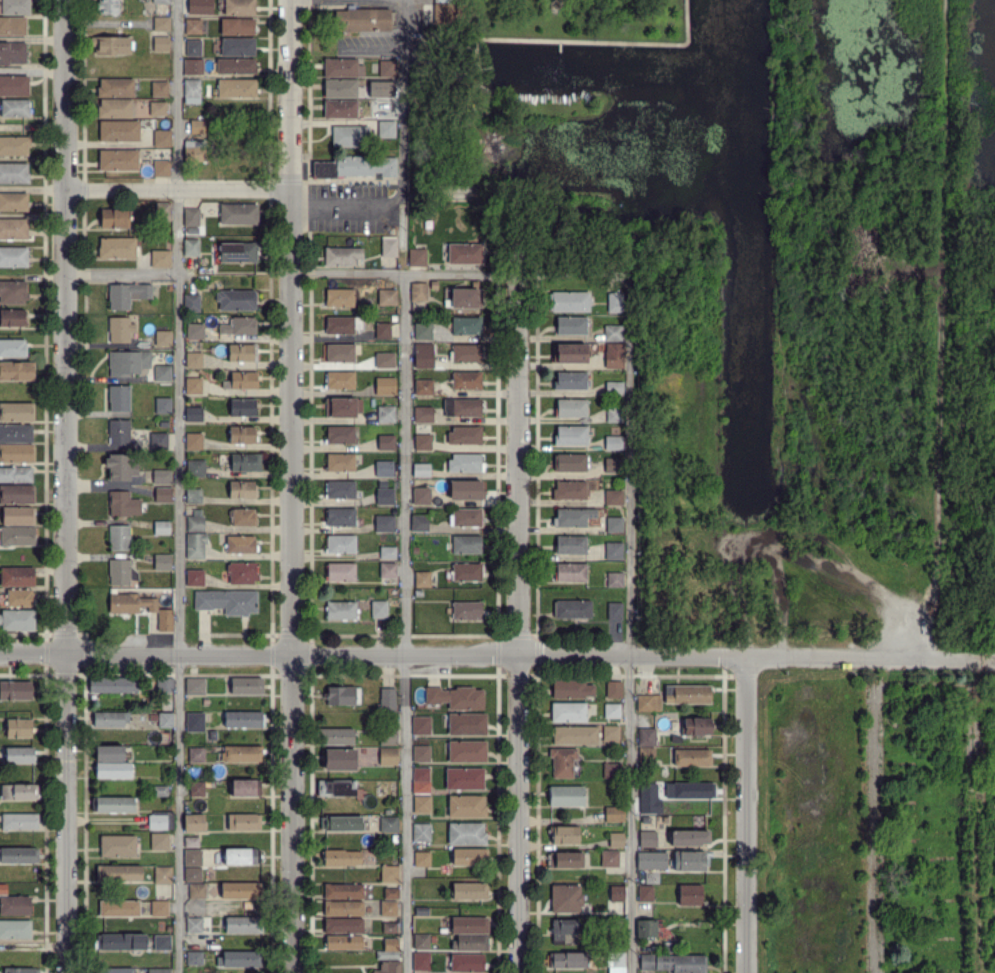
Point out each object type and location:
building: (161, 1)
road: (347, 1)
building: (108, 6)
building: (192, 6)
building: (15, 7)
building: (239, 7)
building: (441, 14)
building: (363, 20)
building: (161, 24)
building: (13, 26)
building: (193, 26)
building: (237, 26)
building: (161, 44)
building: (193, 45)
building: (111, 46)
building: (238, 46)
building: (13, 54)
building: (194, 66)
building: (235, 66)
building: (342, 68)
building: (387, 69)
building: (14, 85)
building: (115, 88)
building: (160, 89)
building: (236, 89)
building: (341, 89)
building: (192, 90)
building: (15, 108)
building: (114, 109)
building: (157, 109)
building: (341, 109)
building: (197, 127)
building: (386, 129)
building: (119, 131)
building: (350, 136)
building: (162, 139)
building: (14, 146)
building: (194, 150)
building: (118, 159)
building: (354, 167)
building: (161, 169)
building: (13, 173)
road: (178, 190)
building: (13, 202)
road: (347, 210)
building: (165, 213)
building: (239, 214)
building: (192, 217)
building: (118, 220)
building: (13, 229)
building: (191, 248)
building: (389, 248)
building: (119, 249)
building: (238, 252)
building: (465, 253)
building: (342, 256)
building: (13, 258)
building: (416, 258)
building: (162, 259)
road: (458, 272)
road: (122, 273)
building: (13, 292)
building: (419, 292)
building: (126, 295)
building: (339, 298)
building: (387, 298)
building: (466, 298)
building: (236, 300)
building: (570, 301)
building: (192, 303)
building: (615, 303)
park: (800, 306)
building: (12, 318)
building: (239, 326)
building: (338, 326)
building: (466, 326)
building: (571, 326)
road: (66, 327)
building: (119, 329)
building: (383, 330)
building: (195, 331)
building: (423, 331)
building: (614, 333)
building: (163, 338)
building: (12, 348)
building: (241, 353)
building: (339, 353)
building: (466, 353)
building: (572, 353)
building: (614, 354)
building: (194, 359)
building: (385, 360)
building: (424, 360)
building: (127, 363)
building: (16, 371)
building: (162, 372)
building: (339, 380)
building: (572, 380)
building: (241, 381)
building: (465, 381)
building: (193, 386)
building: (385, 386)
building: (424, 387)
building: (615, 388)
building: (119, 399)
building: (163, 405)
building: (242, 407)
building: (342, 407)
building: (462, 408)
building: (570, 408)
building: (16, 412)
building: (195, 414)
building: (386, 414)
building: (424, 414)
building: (615, 414)
building: (119, 432)
building: (16, 433)
building: (242, 435)
building: (340, 435)
building: (571, 435)
building: (465, 436)
building: (152, 439)
building: (194, 440)
building: (423, 442)
building: (613, 442)
building: (387, 443)
building: (17, 453)
building: (339, 462)
building: (244, 463)
building: (465, 463)
building: (570, 463)
building: (614, 465)
building: (121, 467)
building: (196, 469)
building: (384, 469)
building: (421, 470)
building: (15, 475)
building: (162, 476)
building: (383, 484)
road: (178, 486)
road: (292, 486)
road: (404, 487)
building: (242, 489)
building: (340, 490)
building: (466, 490)
building: (571, 490)
building: (16, 494)
building: (164, 495)
building: (385, 495)
building: (194, 496)
building: (422, 496)
building: (614, 497)
building: (123, 504)
road: (928, 507)
building: (18, 516)
building: (243, 517)
building: (339, 517)
building: (570, 517)
building: (465, 518)
building: (195, 520)
building: (384, 523)
building: (420, 523)
building: (614, 524)
building: (161, 528)
building: (17, 535)
building: (118, 537)
building: (466, 544)
building: (196, 545)
building: (241, 545)
building: (339, 545)
building: (570, 545)
building: (615, 551)
building: (388, 552)
building: (163, 562)
building: (389, 570)
building: (121, 571)
building: (339, 572)
building: (466, 572)
building: (570, 572)
building: (243, 573)
building: (17, 577)
building: (195, 578)
building: (421, 580)
building: (615, 580)
building: (418, 593)
building: (19, 598)
building: (227, 602)
building: (131, 603)
building: (379, 609)
building: (340, 610)
building: (467, 610)
building: (572, 610)
building: (615, 611)
building: (17, 621)
building: (164, 621)
road: (517, 622)
road: (627, 622)
road: (33, 655)
road: (517, 655)
road: (987, 657)
road: (923, 682)
building: (165, 684)
building: (113, 685)
building: (247, 685)
building: (196, 686)
building: (572, 689)
building: (614, 690)
building: (16, 691)
building: (688, 694)
building: (342, 695)
building: (457, 697)
building: (205, 700)
building: (387, 700)
building: (648, 702)
building: (611, 711)
building: (569, 712)
building: (111, 718)
building: (193, 718)
building: (244, 719)
building: (165, 720)
building: (467, 723)
building: (421, 725)
building: (697, 727)
building: (19, 728)
building: (611, 734)
building: (576, 735)
building: (336, 736)
building: (388, 736)
building: (647, 736)
building: (467, 752)
building: (109, 753)
building: (243, 753)
building: (421, 753)
building: (197, 754)
building: (19, 755)
building: (647, 755)
building: (389, 756)
building: (692, 757)
building: (341, 760)
building: (562, 762)
building: (113, 770)
building: (612, 771)
building: (421, 775)
building: (464, 779)
building: (197, 788)
building: (247, 788)
building: (337, 788)
building: (160, 790)
building: (648, 790)
building: (691, 790)
building: (19, 792)
building: (566, 796)
building: (113, 804)
building: (422, 804)
building: (466, 806)
building: (387, 811)
road: (66, 813)
building: (614, 814)
road: (745, 815)
building: (161, 820)
building: (20, 821)
building: (244, 821)
building: (195, 822)
building: (341, 823)
building: (389, 824)
building: (422, 832)
building: (466, 834)
building: (564, 835)
building: (687, 839)
building: (617, 840)
building: (648, 840)
building: (160, 841)
building: (118, 845)
building: (19, 855)
building: (193, 855)
building: (241, 856)
building: (470, 856)
building: (340, 857)
building: (610, 858)
building: (651, 858)
building: (423, 859)
building: (566, 859)
building: (690, 861)
building: (192, 872)
building: (118, 873)
building: (390, 874)
building: (163, 876)
building: (241, 890)
building: (197, 891)
building: (344, 891)
building: (469, 891)
building: (645, 892)
building: (392, 893)
building: (691, 895)
building: (566, 898)
building: (15, 905)
building: (120, 908)
building: (160, 908)
building: (389, 908)
building: (343, 909)
building: (422, 910)
building: (243, 924)
building: (195, 925)
building: (344, 925)
building: (470, 926)
building: (614, 926)
building: (390, 928)
building: (15, 929)
building: (647, 929)
building: (562, 930)
building: (121, 941)
building: (422, 941)
building: (343, 942)
building: (163, 943)
building: (471, 943)
building: (390, 945)
building: (620, 947)
building: (671, 947)
building: (387, 955)
building: (195, 957)
building: (239, 959)
building: (618, 959)
building: (665, 959)
building: (568, 960)
building: (421, 962)
building: (467, 962)
building: (649, 962)
building: (688, 964)
building: (389, 967)
building: (21, 971)
building: (114, 971)
building: (161, 971)

